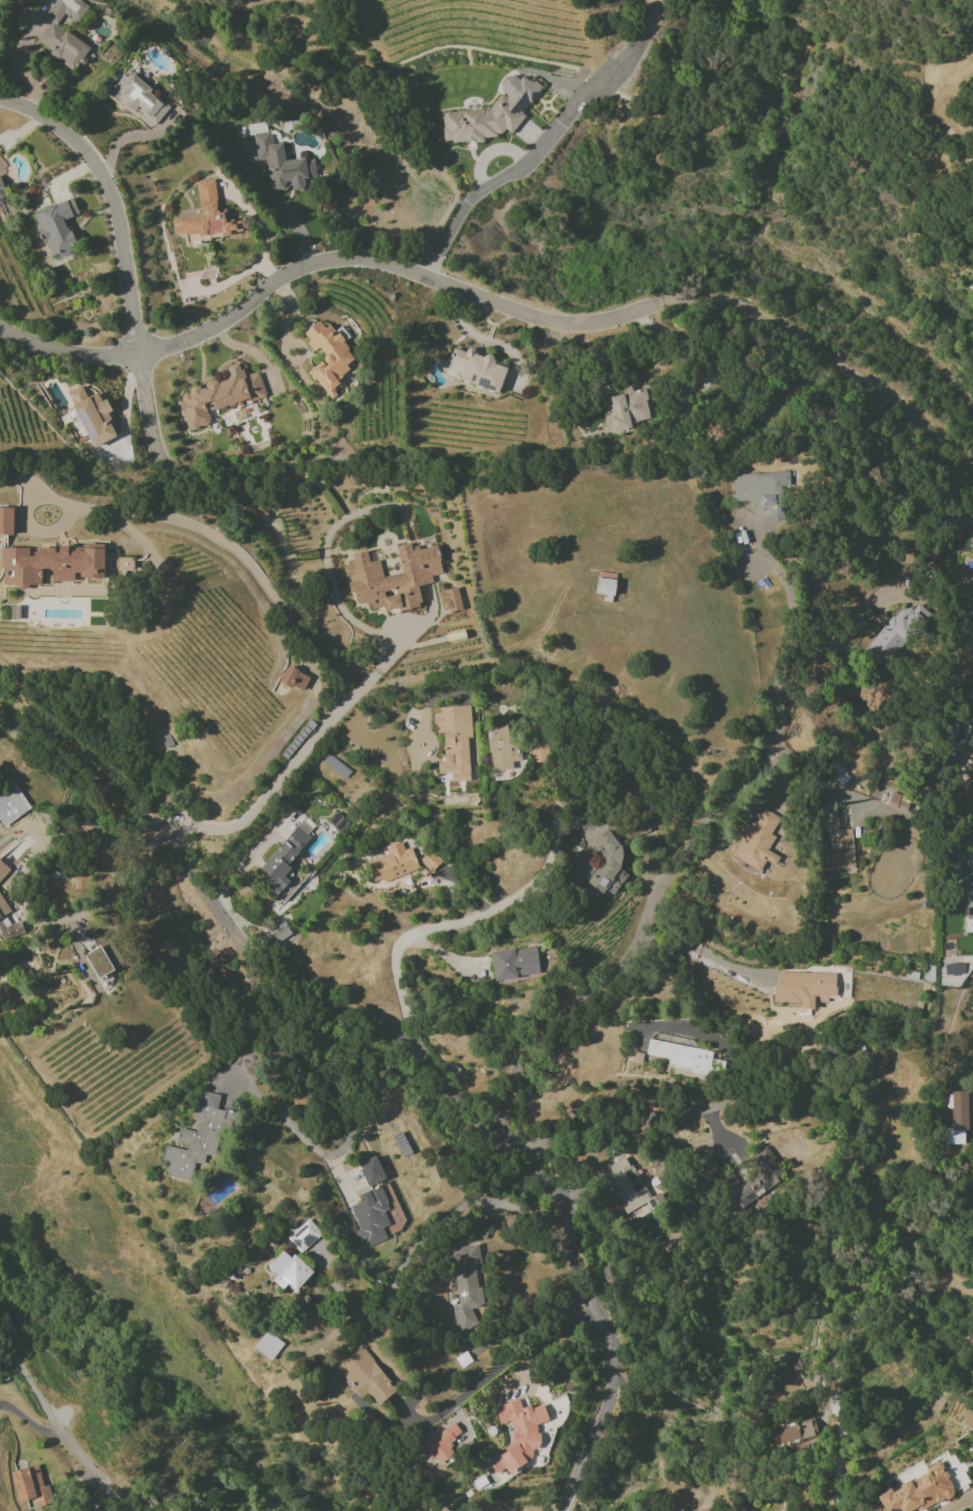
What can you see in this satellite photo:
road: (209, 13)
building: (64, 33)
road: (26, 80)
building: (139, 97)
building: (491, 113)
road: (406, 128)
road: (113, 146)
road: (524, 164)
building: (284, 165)
building: (2, 195)
road: (109, 201)
road: (275, 202)
building: (209, 218)
building: (56, 228)
road: (323, 264)
road: (697, 350)
road: (249, 352)
building: (328, 357)
road: (832, 362)
building: (476, 369)
building: (219, 395)
road: (124, 403)
road: (145, 403)
building: (628, 409)
building: (92, 416)
building: (761, 491)
building: (6, 521)
road: (198, 528)
building: (52, 564)
road: (777, 576)
building: (392, 578)
building: (450, 600)
building: (892, 635)
building: (972, 657)
road: (377, 672)
building: (294, 679)
building: (454, 740)
building: (833, 777)
building: (970, 787)
road: (272, 798)
building: (337, 821)
road: (447, 828)
building: (760, 837)
building: (834, 838)
building: (430, 860)
building: (392, 863)
building: (606, 863)
road: (119, 887)
road: (664, 893)
building: (969, 905)
road: (485, 916)
building: (8, 926)
building: (280, 931)
road: (705, 955)
building: (103, 959)
building: (515, 963)
building: (805, 988)
road: (412, 1048)
building: (685, 1057)
building: (958, 1117)
road: (612, 1131)
building: (197, 1139)
road: (332, 1152)
road: (790, 1163)
road: (723, 1169)
building: (371, 1171)
building: (719, 1179)
building: (625, 1184)
building: (370, 1216)
building: (303, 1236)
road: (412, 1248)
building: (289, 1271)
building: (467, 1286)
road: (603, 1287)
road: (764, 1299)
road: (533, 1323)
building: (268, 1345)
building: (365, 1377)
road: (32, 1390)
building: (968, 1418)
road: (34, 1419)
building: (791, 1431)
building: (519, 1434)
building: (442, 1445)
road: (838, 1455)
road: (88, 1475)
building: (31, 1486)
building: (919, 1491)
building: (172, 1510)

